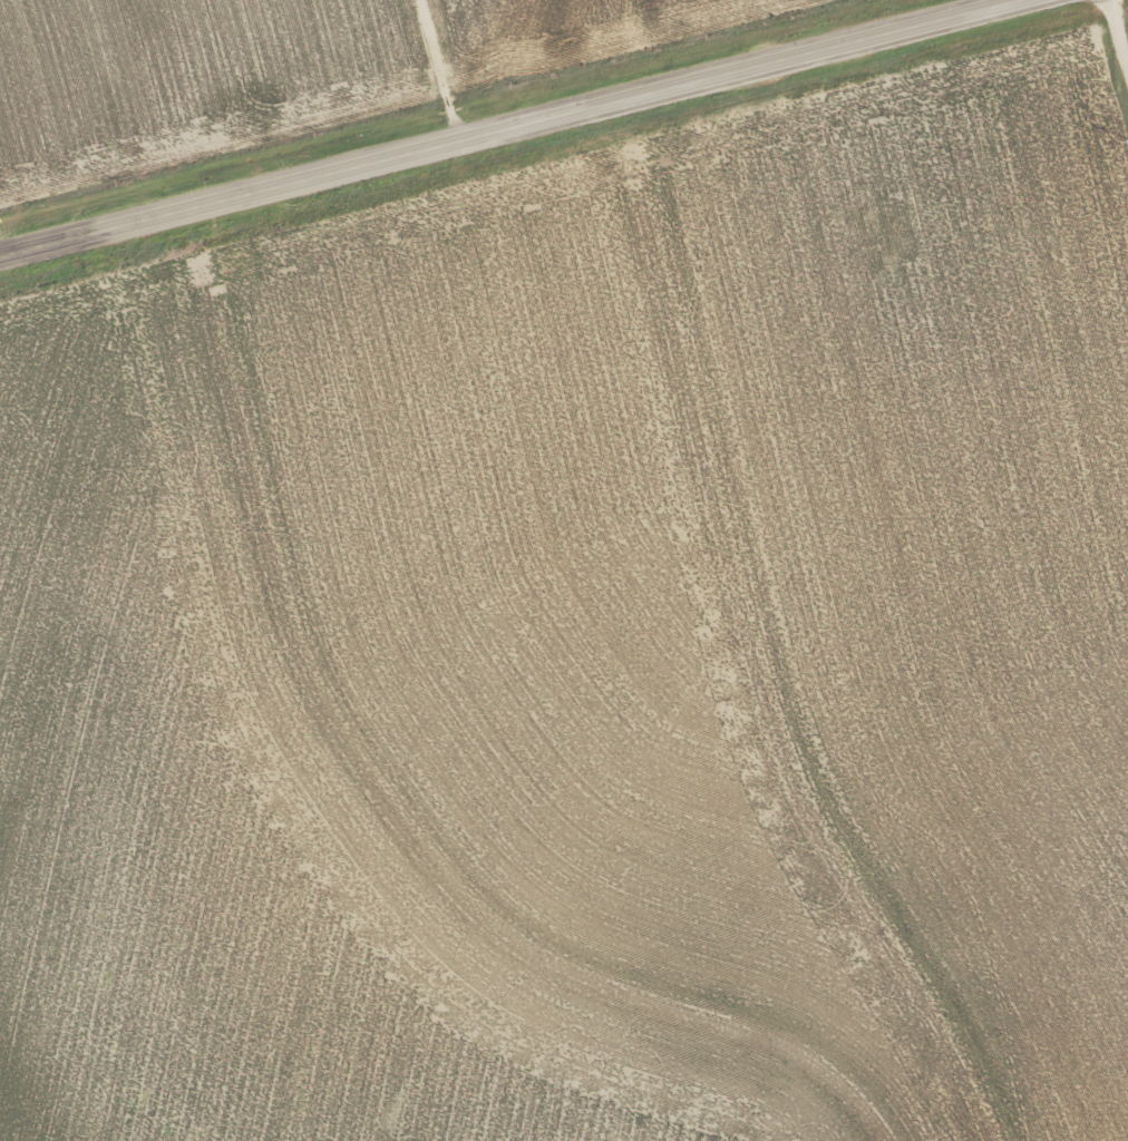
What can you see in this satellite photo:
road: (1119, 33)
road: (436, 70)
road: (512, 127)

